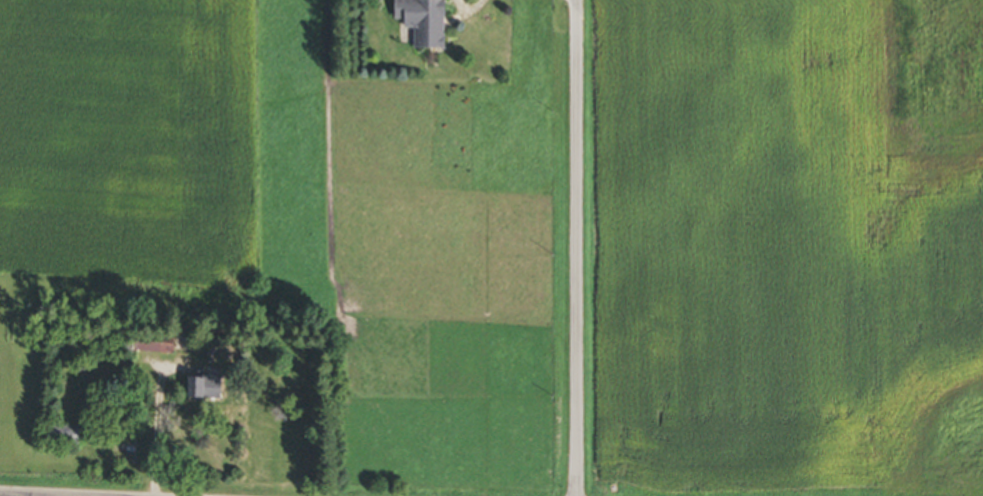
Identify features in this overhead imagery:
building: (418, 22)
road: (578, 247)
building: (198, 389)
building: (59, 437)
road: (157, 437)
road: (30, 494)

